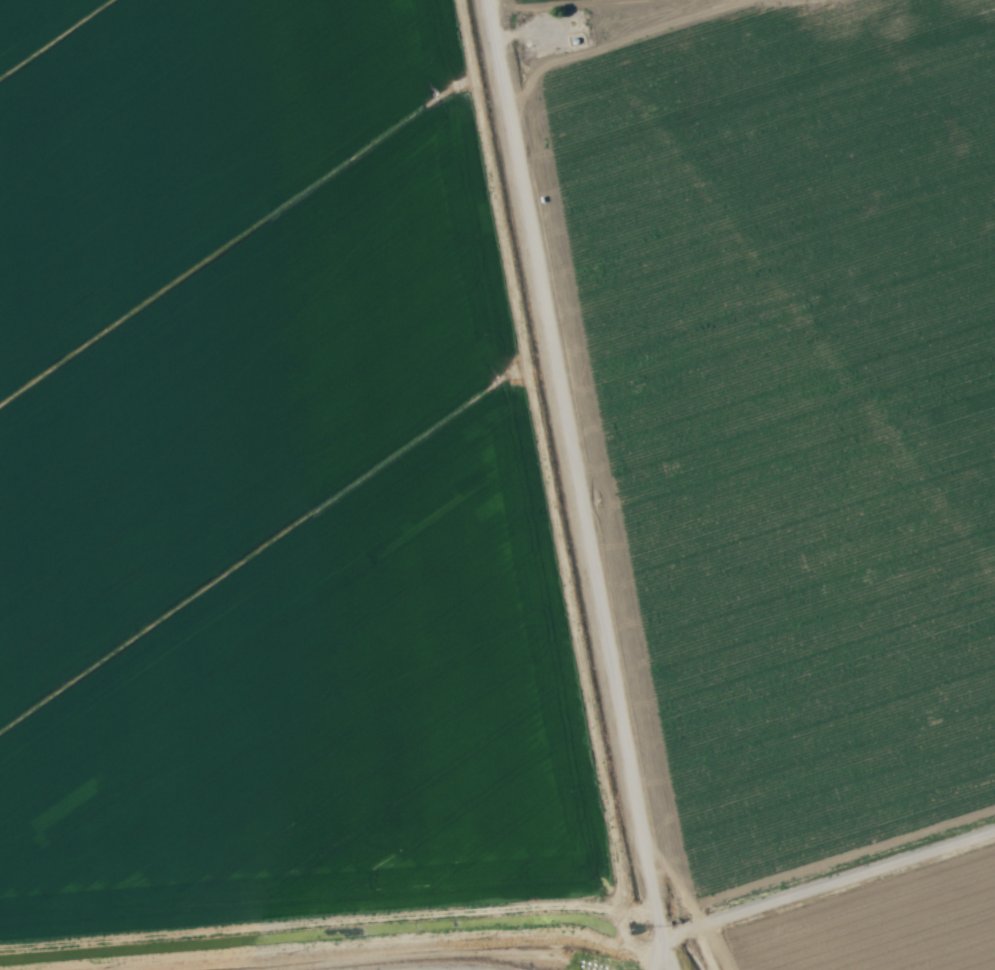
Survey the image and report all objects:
road: (579, 485)
road: (813, 882)
road: (420, 966)

